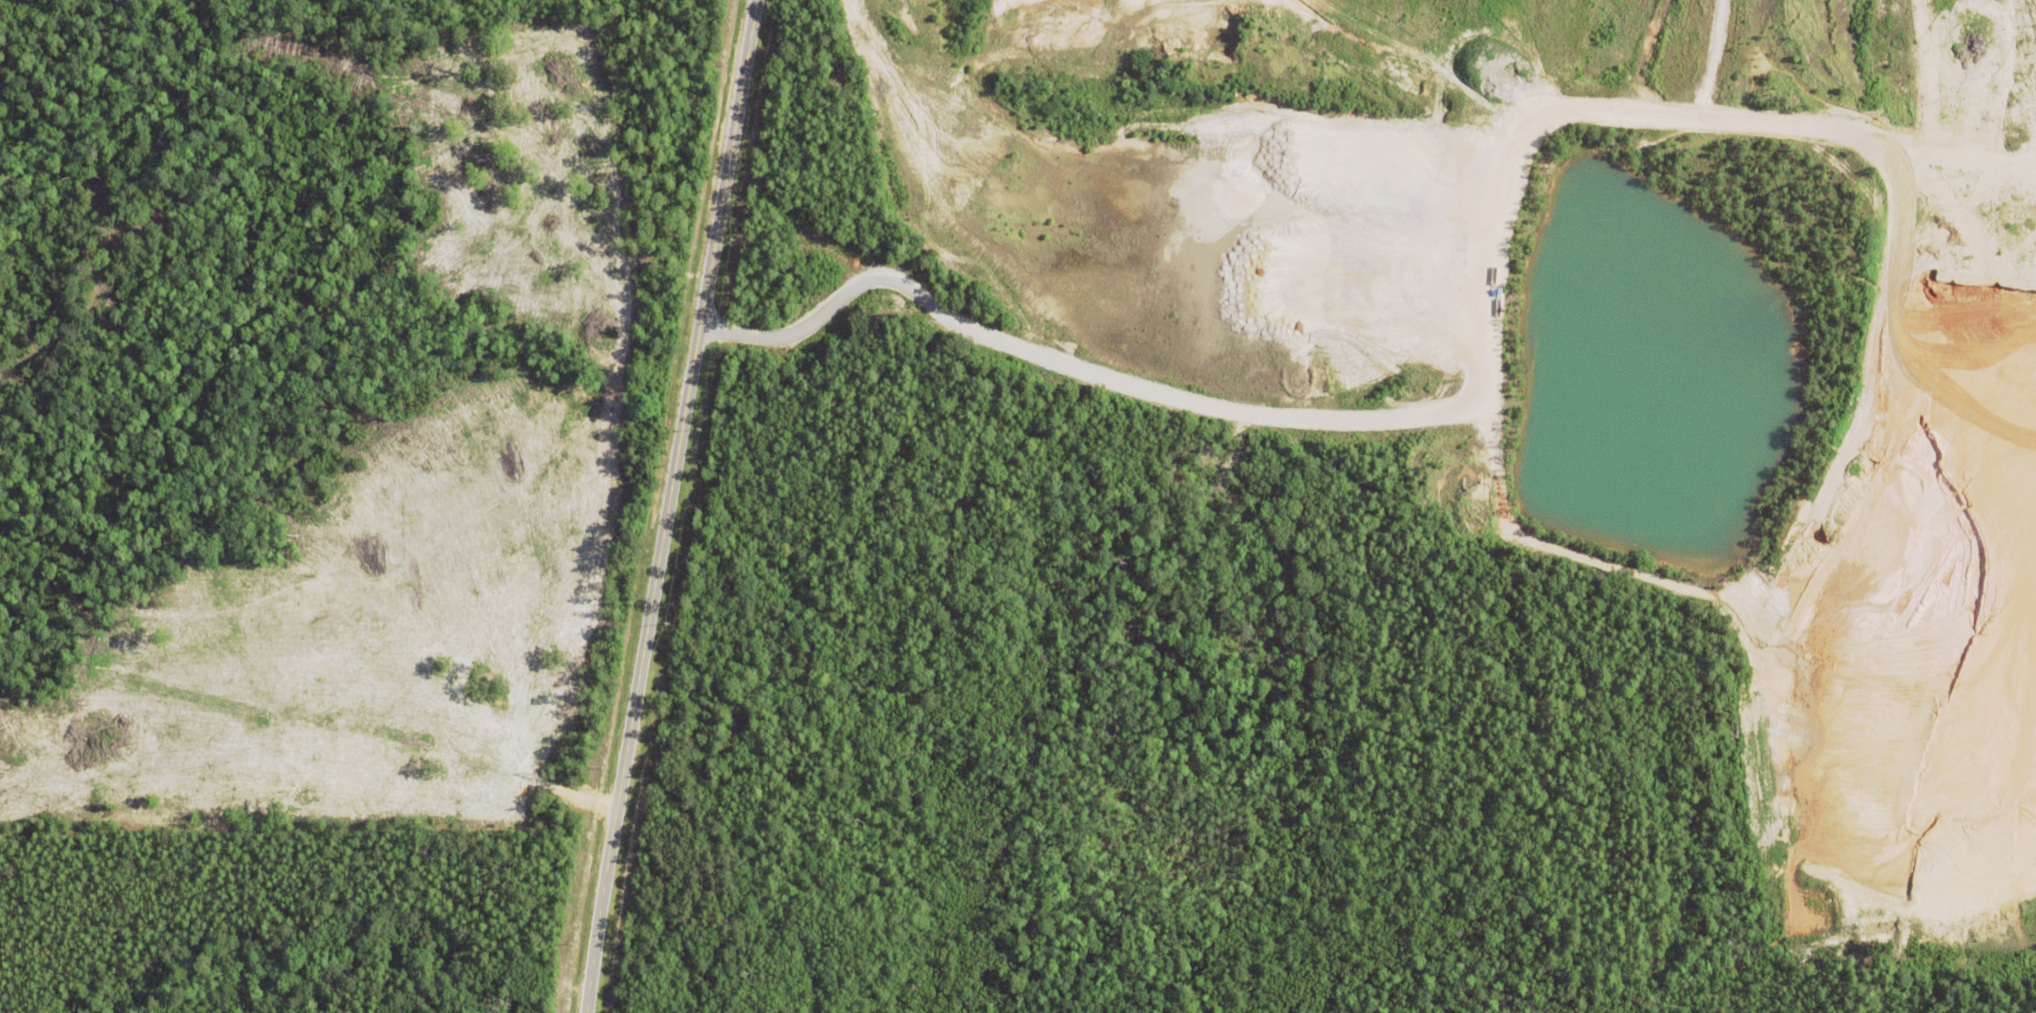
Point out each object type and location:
road: (667, 505)

